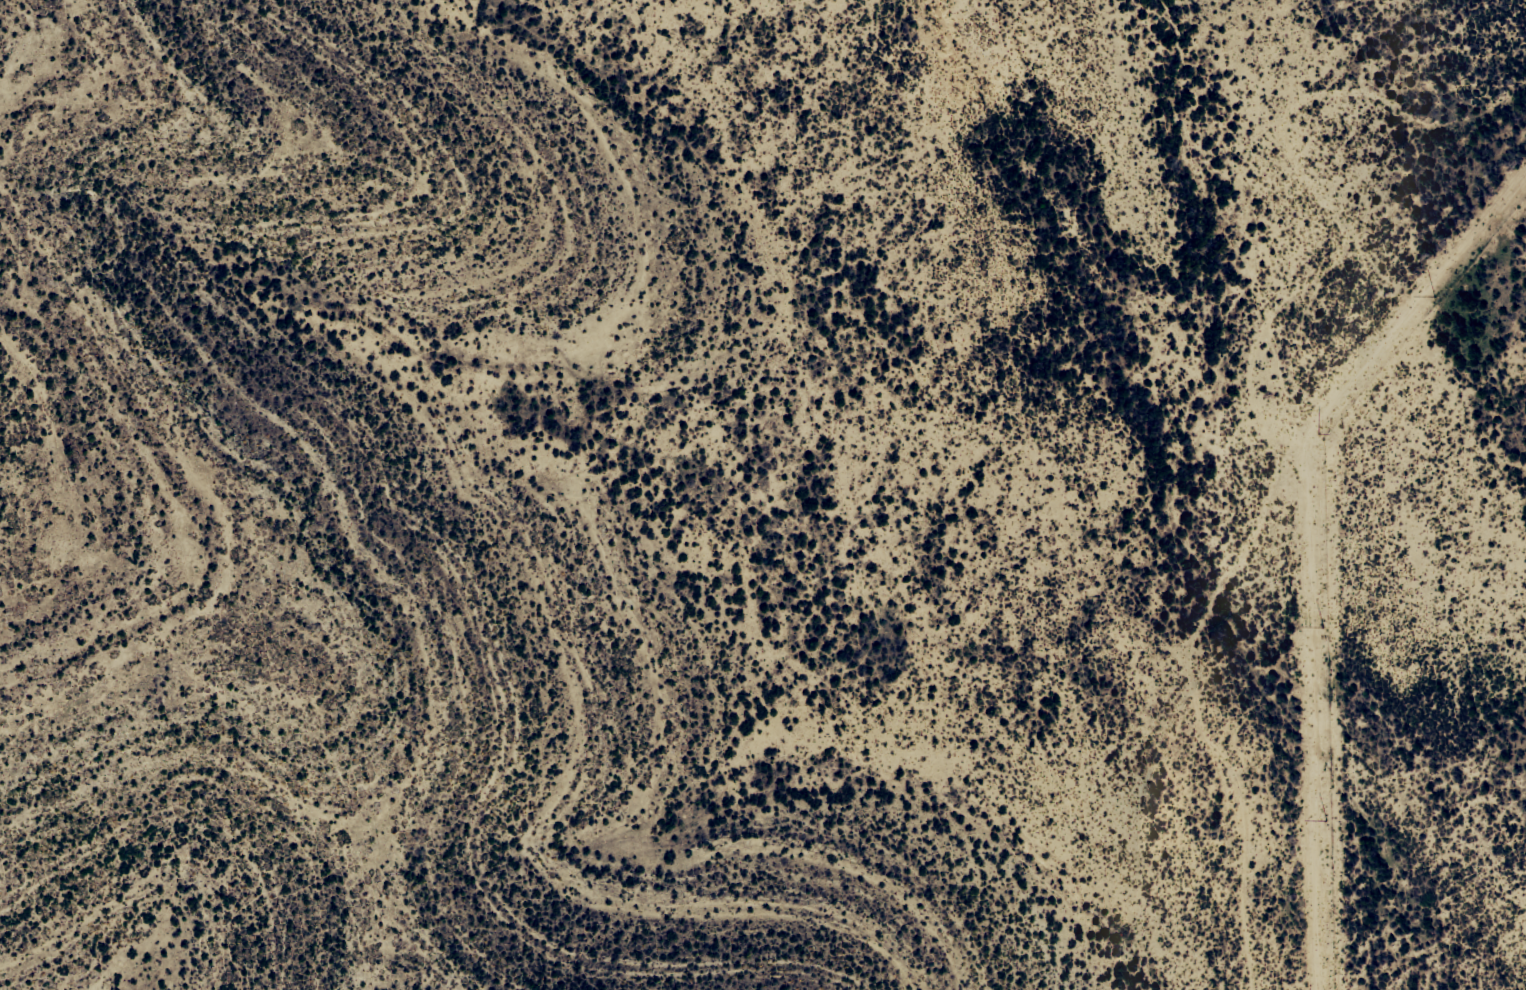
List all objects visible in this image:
power tower: (1434, 296)
power tower: (1318, 432)
power tower: (1321, 627)
power tower: (1325, 821)

